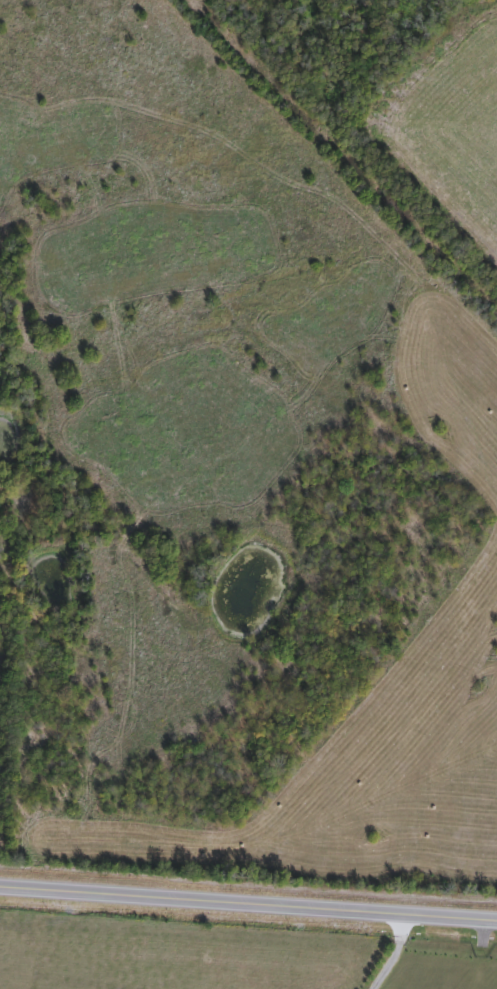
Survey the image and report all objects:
road: (348, 151)
road: (248, 902)
road: (391, 953)

